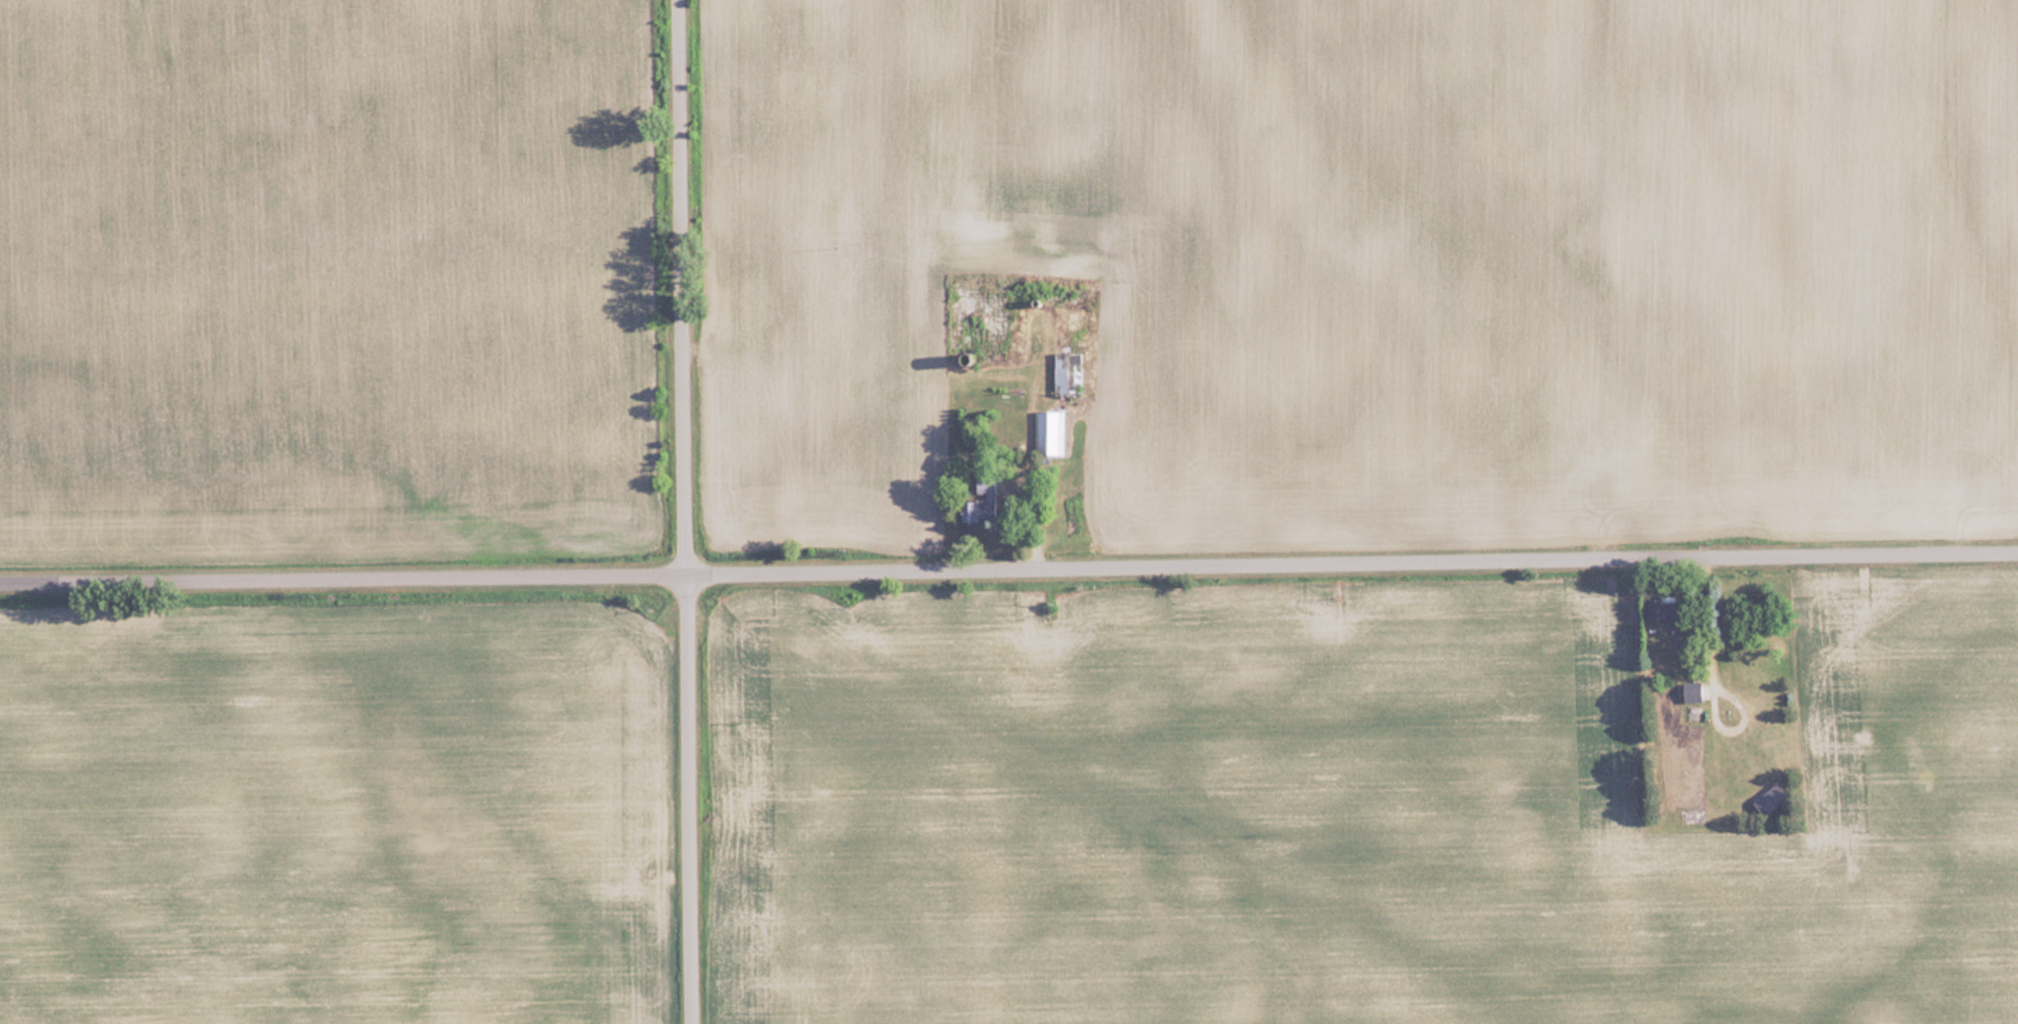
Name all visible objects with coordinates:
building: (1067, 374)
building: (1049, 433)
building: (981, 500)
road: (688, 511)
road: (1009, 572)
building: (1667, 610)
building: (1692, 691)
building: (1769, 799)

